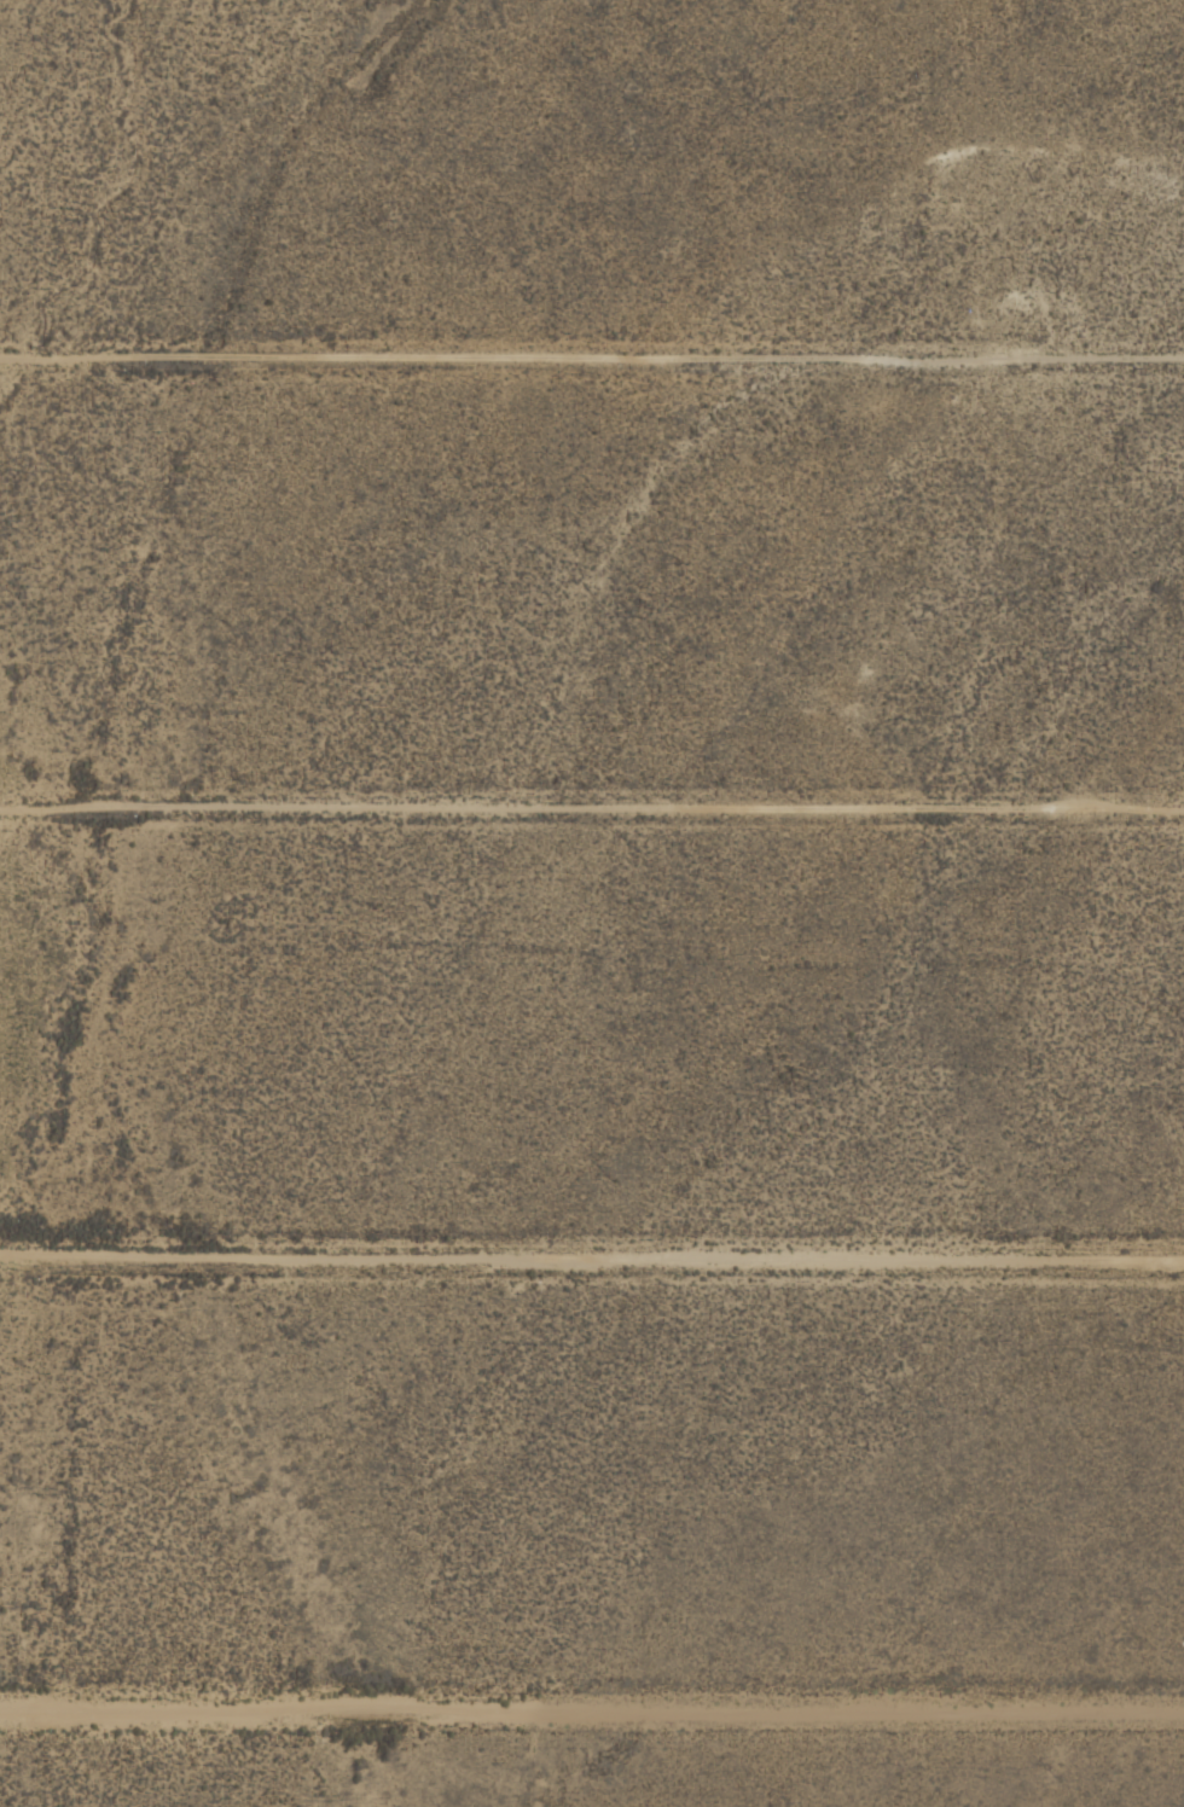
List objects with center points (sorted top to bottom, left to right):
road: (592, 367)

